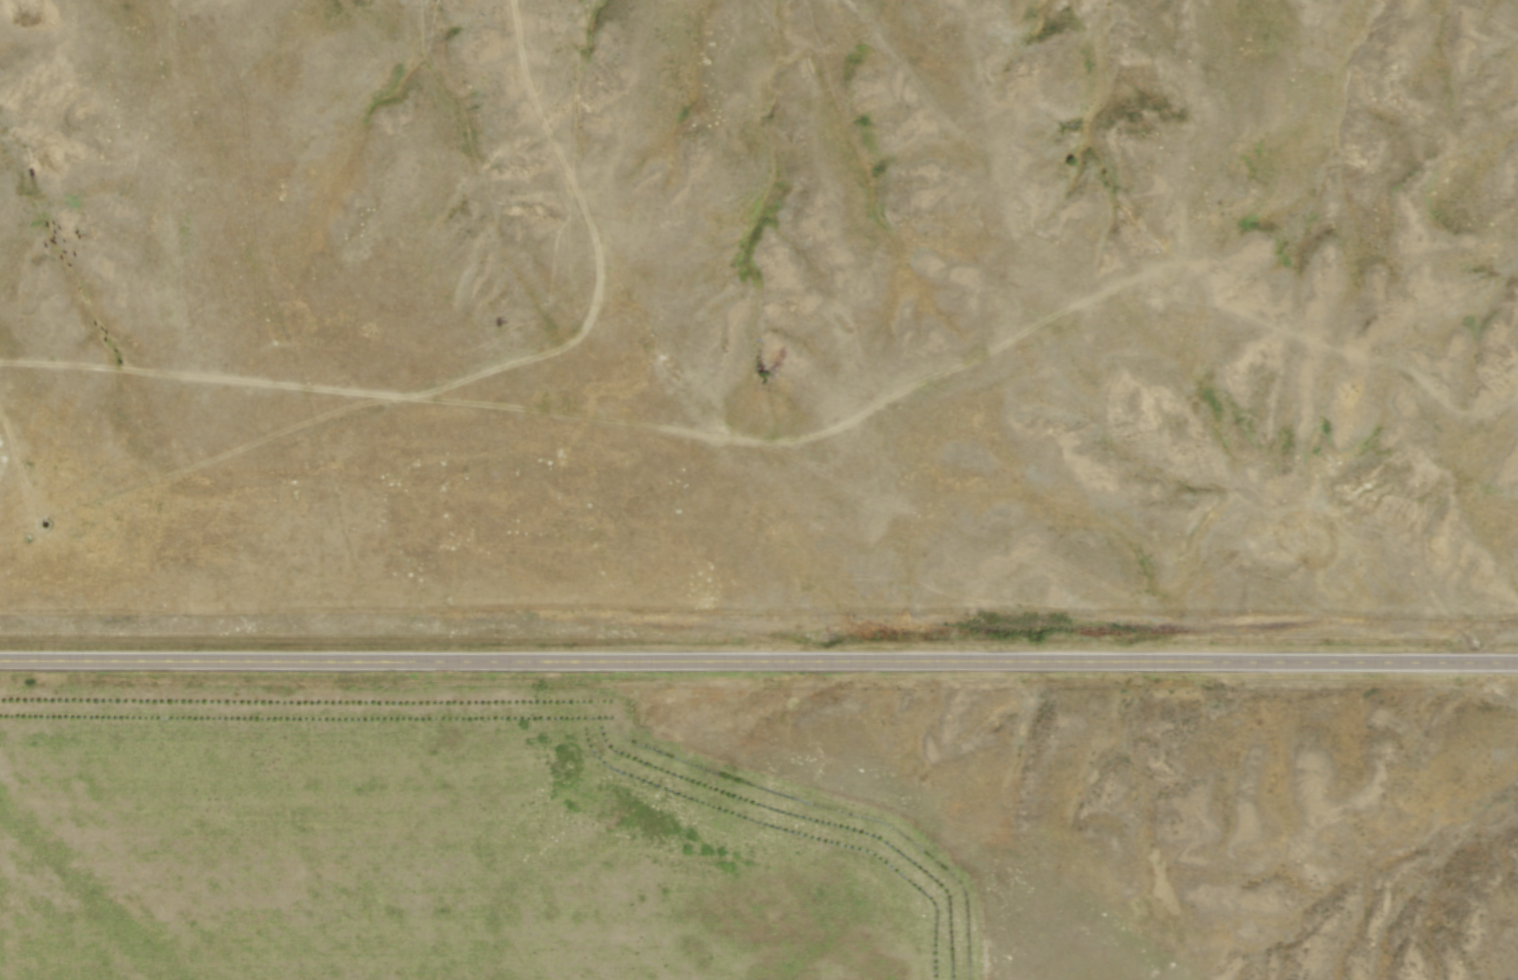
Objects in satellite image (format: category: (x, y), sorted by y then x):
road: (759, 659)

